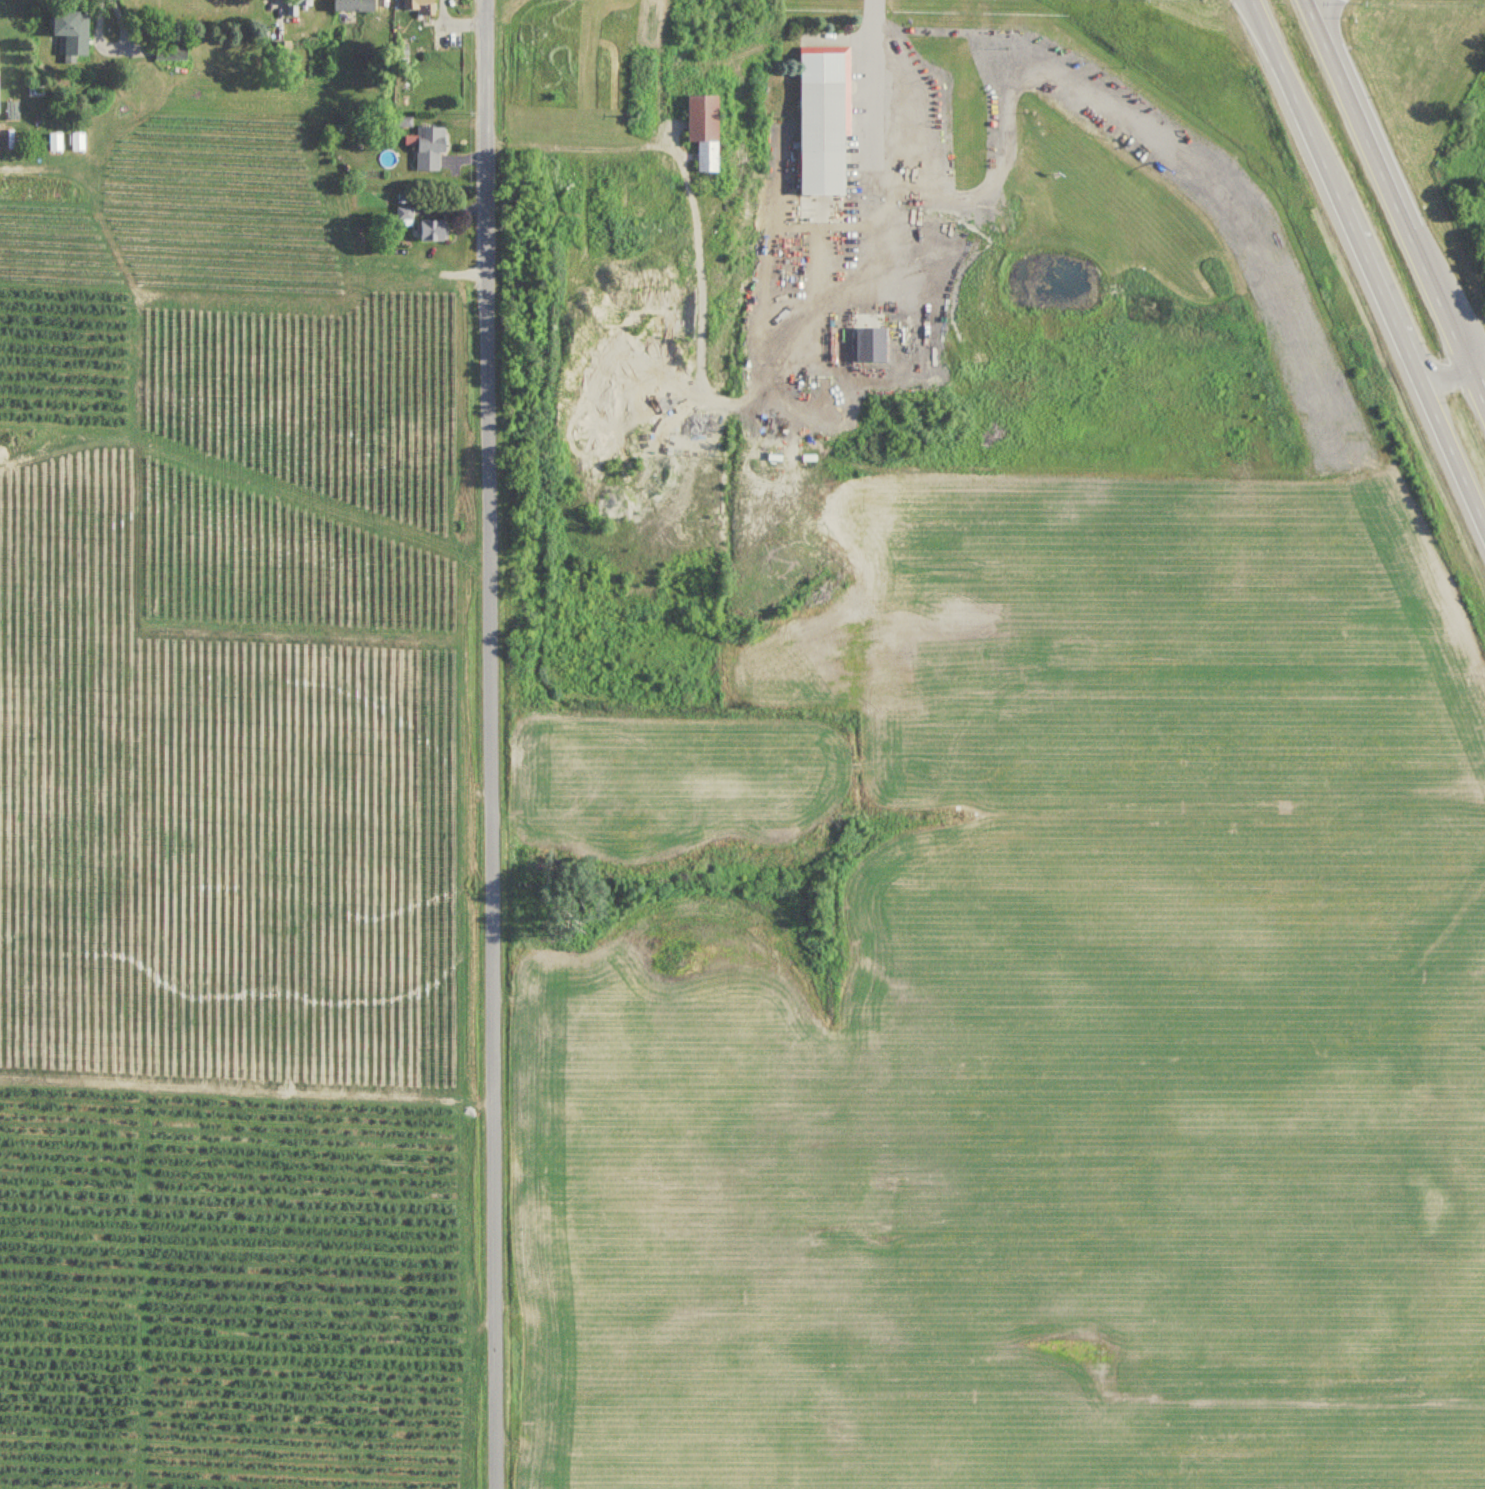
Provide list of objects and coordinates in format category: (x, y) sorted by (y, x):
building: (355, 5)
building: (298, 6)
building: (421, 6)
building: (73, 33)
road: (109, 43)
building: (173, 51)
road: (874, 95)
building: (827, 120)
building: (707, 130)
building: (79, 142)
building: (56, 143)
building: (431, 147)
road: (1330, 177)
road: (1385, 183)
building: (658, 204)
building: (405, 217)
building: (434, 230)
road: (701, 322)
building: (872, 344)
road: (1438, 373)
road: (1475, 387)
road: (1447, 440)
road: (484, 744)

